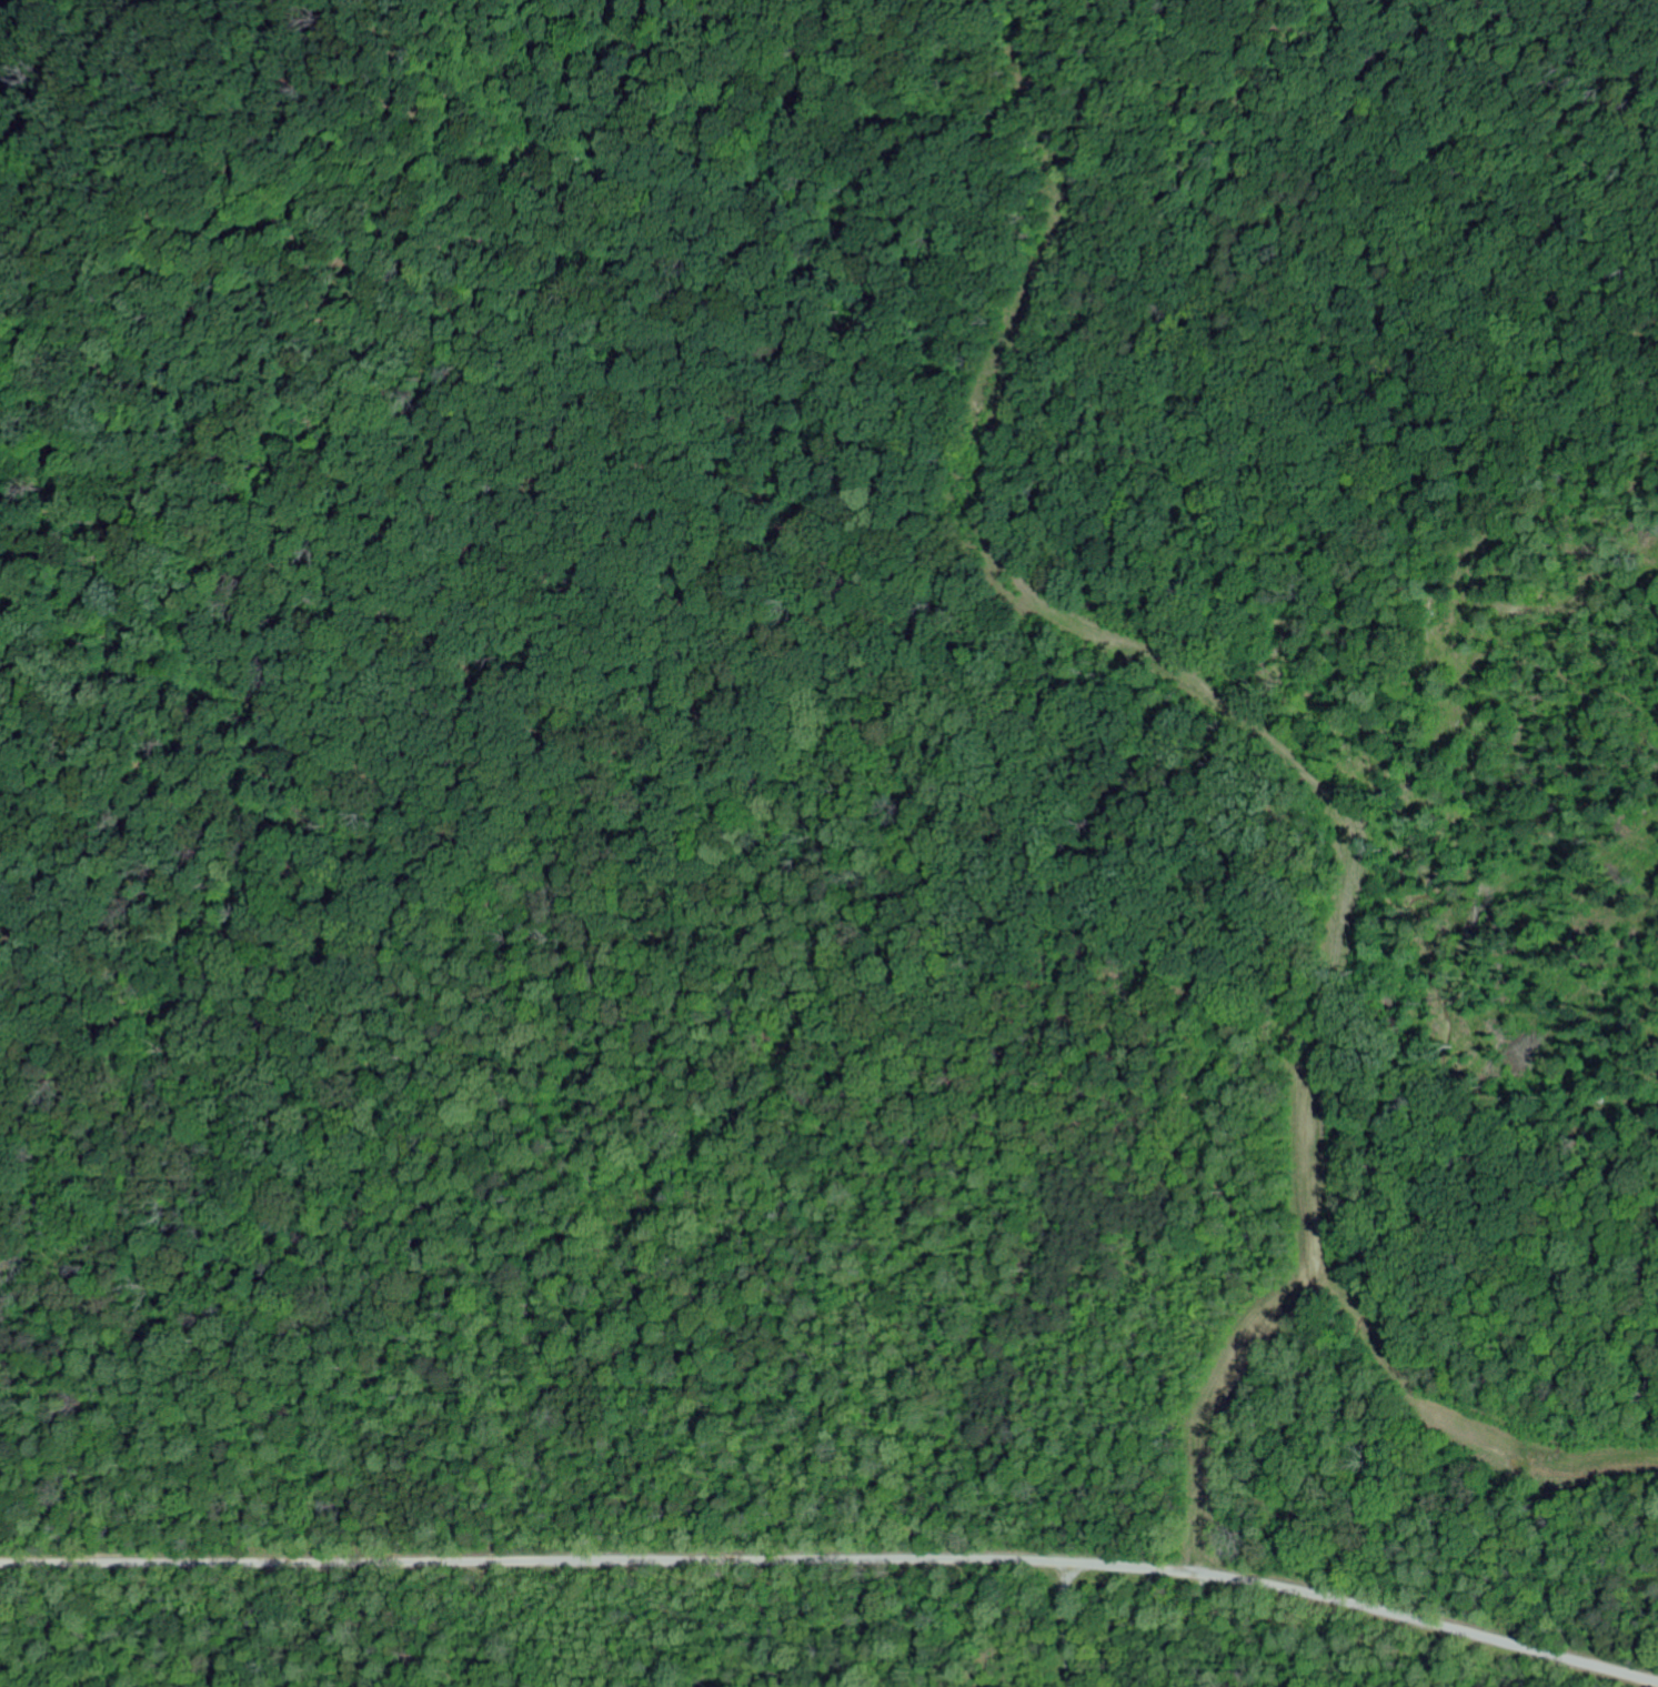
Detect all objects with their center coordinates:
road: (835, 1558)

